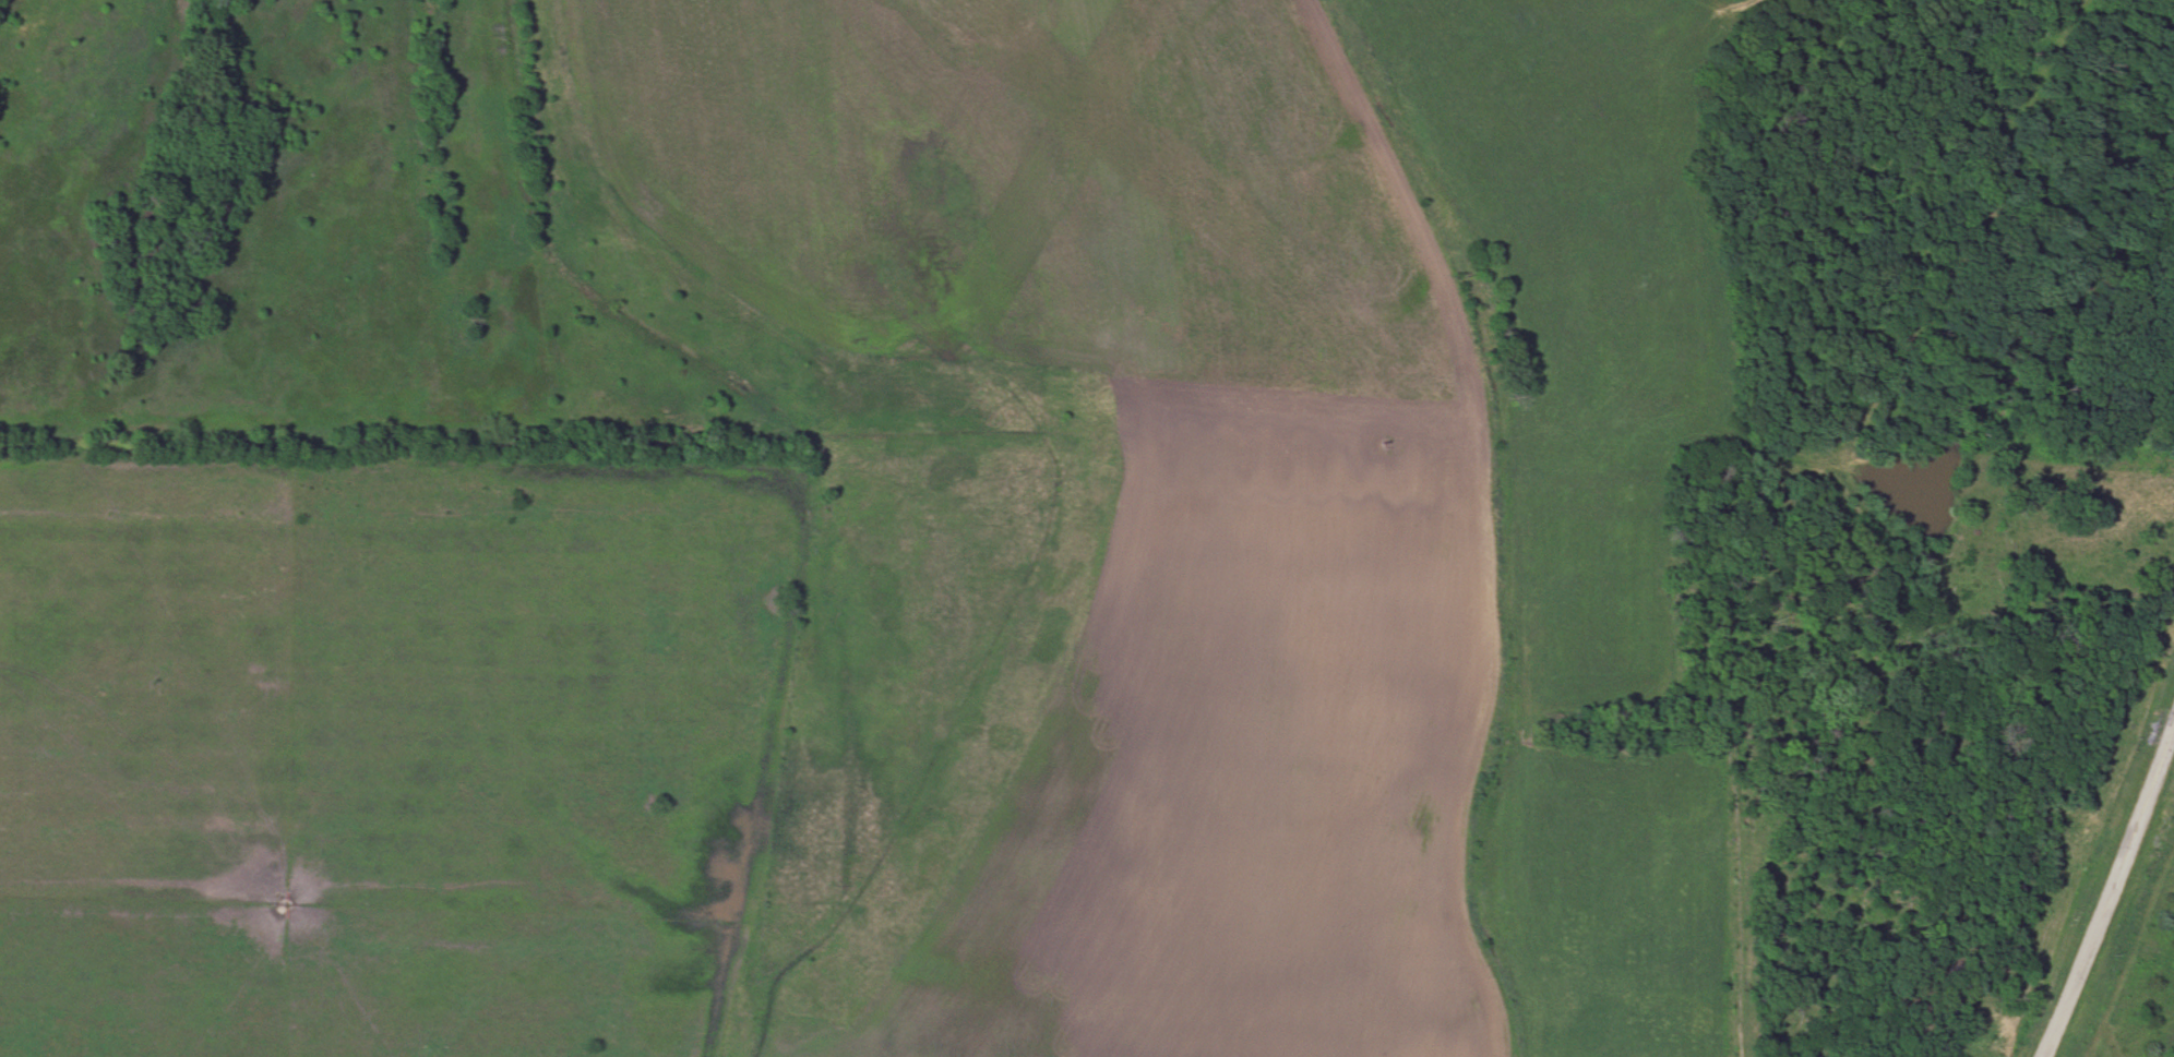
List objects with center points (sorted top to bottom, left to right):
road: (2114, 894)

